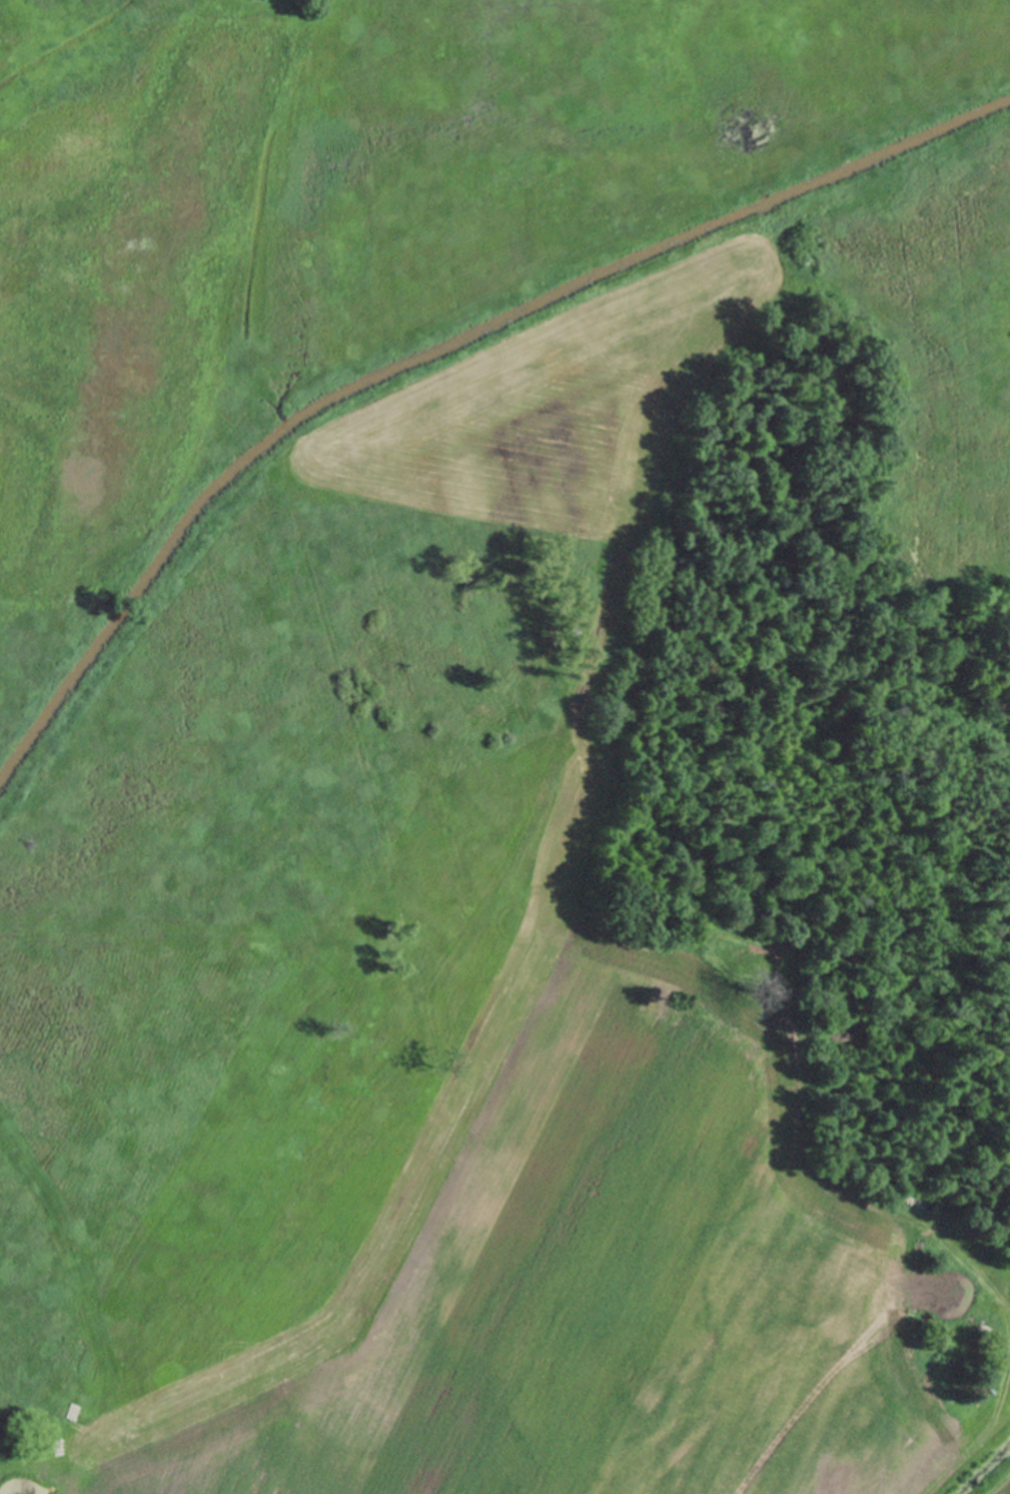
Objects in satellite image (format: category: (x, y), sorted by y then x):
building: (327, 0)

